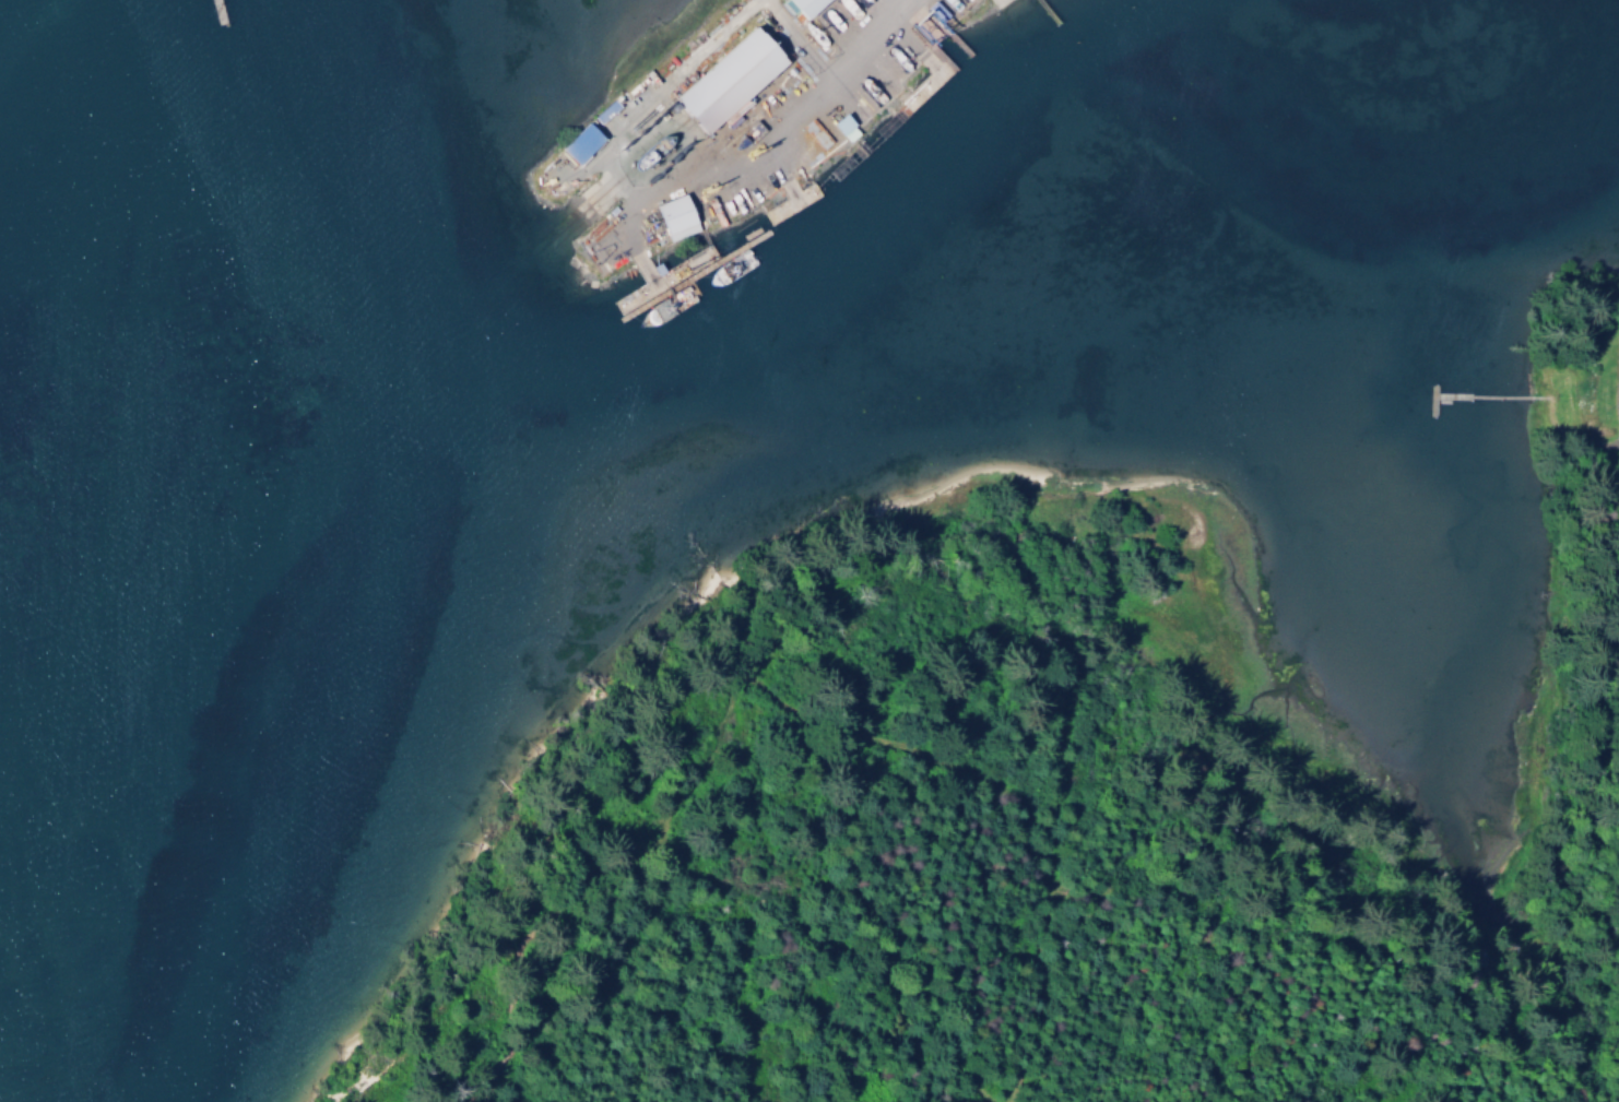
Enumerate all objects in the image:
building: (809, 5)
pier: (214, 11)
pier: (1047, 11)
road: (1025, 15)
road: (921, 17)
pier: (957, 42)
road: (832, 68)
building: (732, 79)
pier: (924, 82)
building: (605, 110)
building: (843, 123)
building: (581, 143)
pier: (864, 143)
railway: (604, 189)
pier: (788, 200)
building: (677, 216)
pier: (659, 277)
road: (1023, 805)

